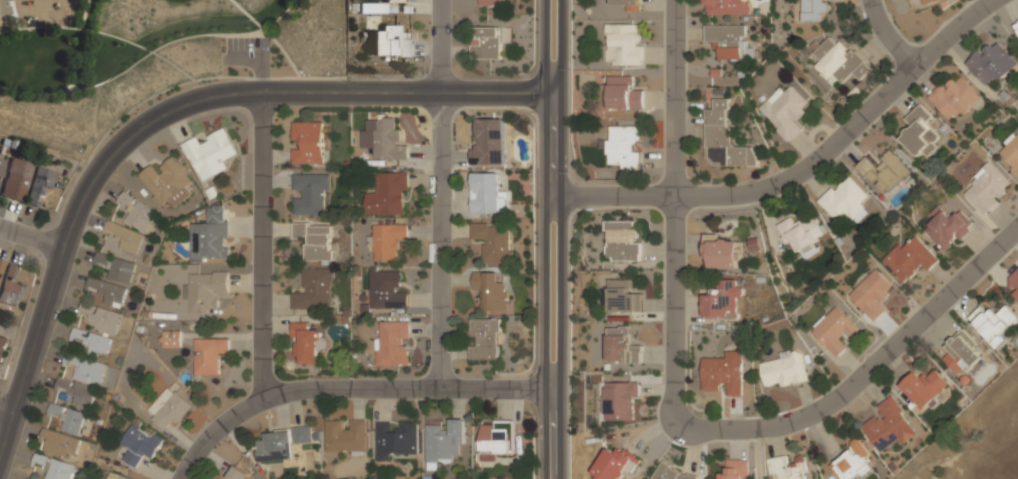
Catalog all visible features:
building: (393, 1)
building: (928, 2)
building: (492, 3)
building: (628, 4)
building: (725, 7)
building: (371, 8)
building: (813, 11)
road: (81, 14)
building: (1016, 27)
road: (2, 29)
road: (102, 33)
road: (269, 35)
road: (887, 36)
building: (728, 41)
building: (390, 42)
parking lot: (247, 43)
building: (485, 43)
building: (622, 44)
road: (150, 53)
street lamp: (946, 54)
park: (146, 58)
road: (261, 61)
building: (838, 61)
building: (991, 64)
road: (199, 78)
building: (623, 94)
road: (500, 96)
building: (954, 98)
building: (785, 109)
building: (919, 133)
building: (724, 139)
building: (386, 141)
building: (307, 142)
building: (488, 142)
road: (119, 145)
building: (623, 147)
building: (1011, 152)
building: (209, 153)
building: (2, 165)
road: (806, 167)
building: (884, 171)
building: (16, 180)
building: (166, 183)
building: (40, 184)
building: (988, 188)
road: (436, 192)
building: (309, 193)
building: (486, 193)
building: (388, 194)
road: (553, 196)
building: (844, 201)
building: (137, 213)
building: (948, 230)
building: (802, 235)
building: (126, 236)
road: (30, 237)
building: (210, 237)
road: (545, 239)
road: (561, 239)
building: (315, 240)
building: (387, 240)
building: (621, 240)
building: (492, 242)
road: (259, 246)
building: (722, 254)
building: (909, 261)
building: (1, 265)
building: (117, 266)
building: (1015, 282)
building: (11, 287)
building: (208, 290)
building: (314, 290)
building: (386, 290)
building: (490, 290)
building: (109, 291)
building: (872, 294)
building: (623, 296)
building: (722, 301)
building: (101, 318)
building: (994, 323)
building: (834, 329)
building: (171, 339)
building: (485, 339)
building: (93, 341)
building: (306, 342)
building: (392, 343)
building: (621, 345)
building: (3, 347)
building: (963, 354)
building: (209, 355)
building: (87, 370)
building: (783, 370)
building: (724, 375)
road: (351, 384)
building: (924, 387)
building: (78, 393)
building: (619, 400)
building: (170, 410)
road: (5, 414)
building: (68, 418)
road: (677, 418)
building: (888, 425)
building: (346, 436)
building: (395, 439)
building: (494, 439)
building: (443, 441)
building: (60, 443)
building: (283, 443)
street lamp: (671, 443)
building: (140, 444)
road: (757, 453)
building: (852, 462)
building: (614, 464)
building: (56, 467)
building: (788, 468)
building: (735, 469)
building: (669, 472)
building: (235, 473)
building: (119, 476)
building: (219, 478)

